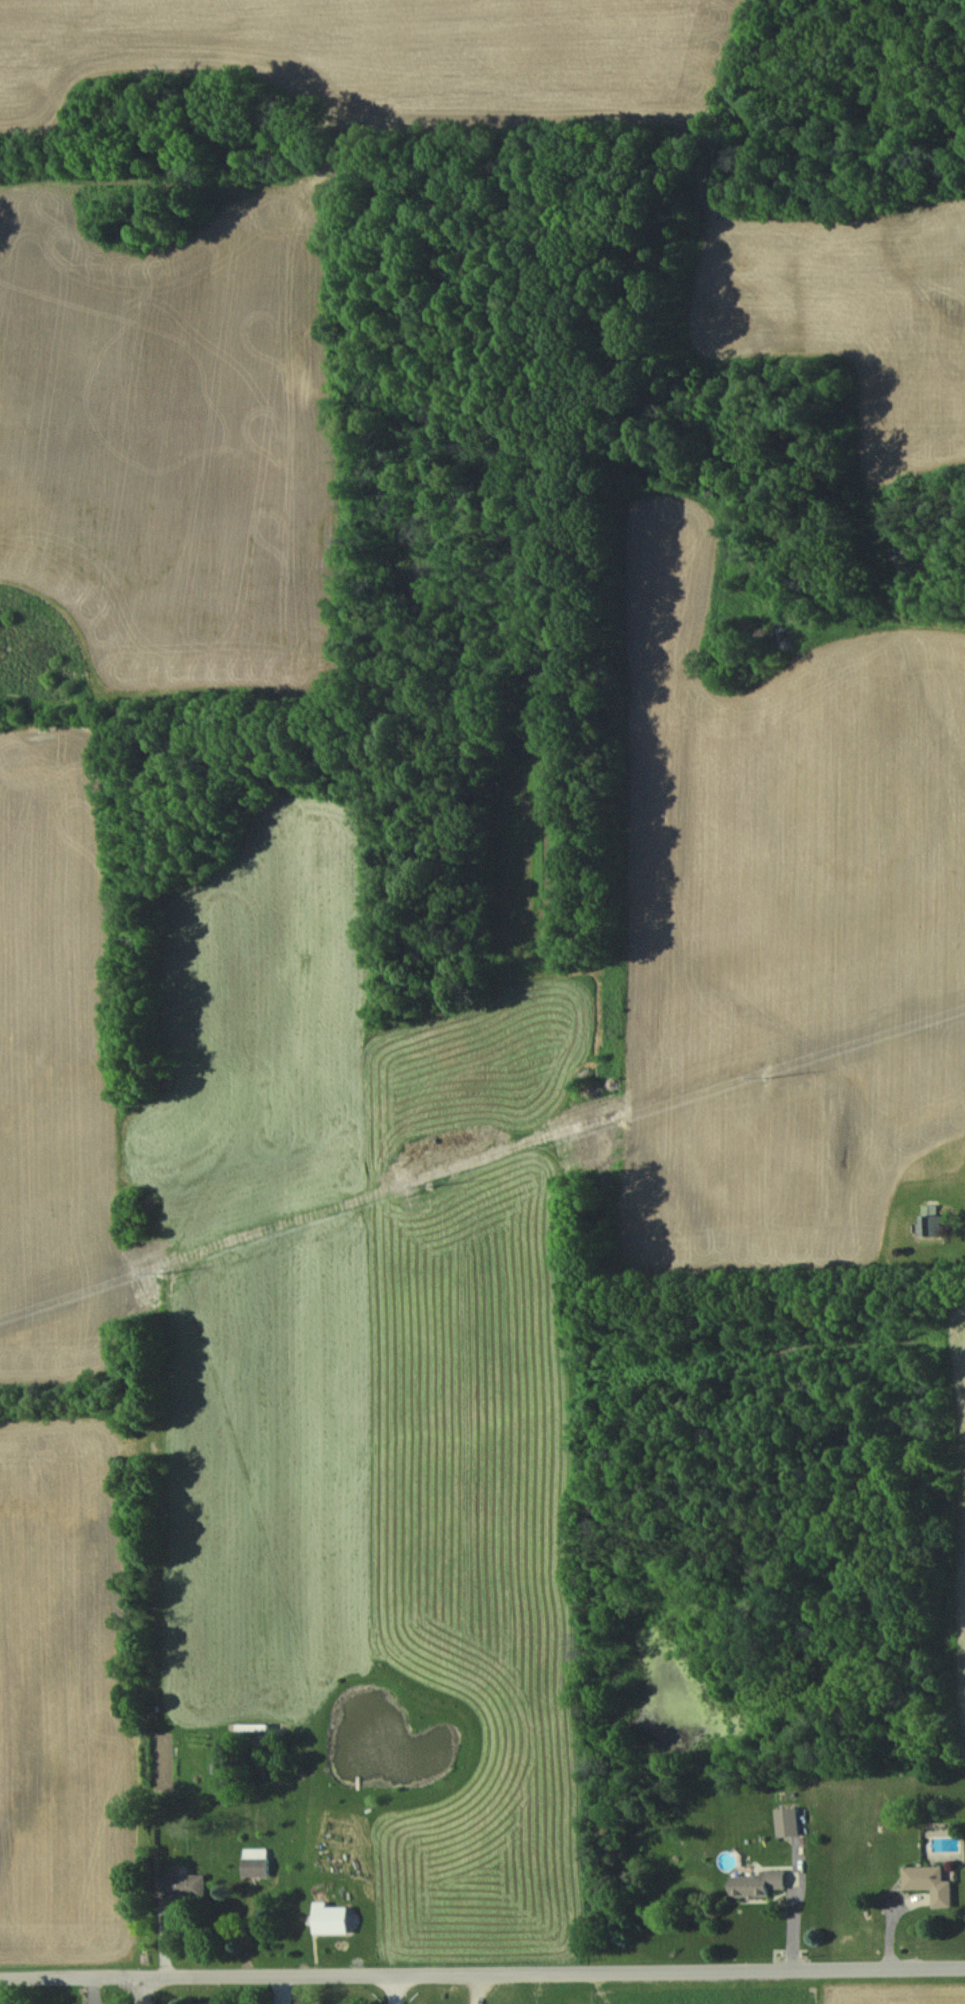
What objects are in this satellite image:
building: (931, 1220)
building: (787, 1821)
building: (255, 1861)
building: (757, 1882)
building: (929, 1882)
building: (183, 1884)
building: (331, 1918)
road: (482, 1969)
road: (479, 1987)
road: (392, 1988)
road: (142, 1989)

